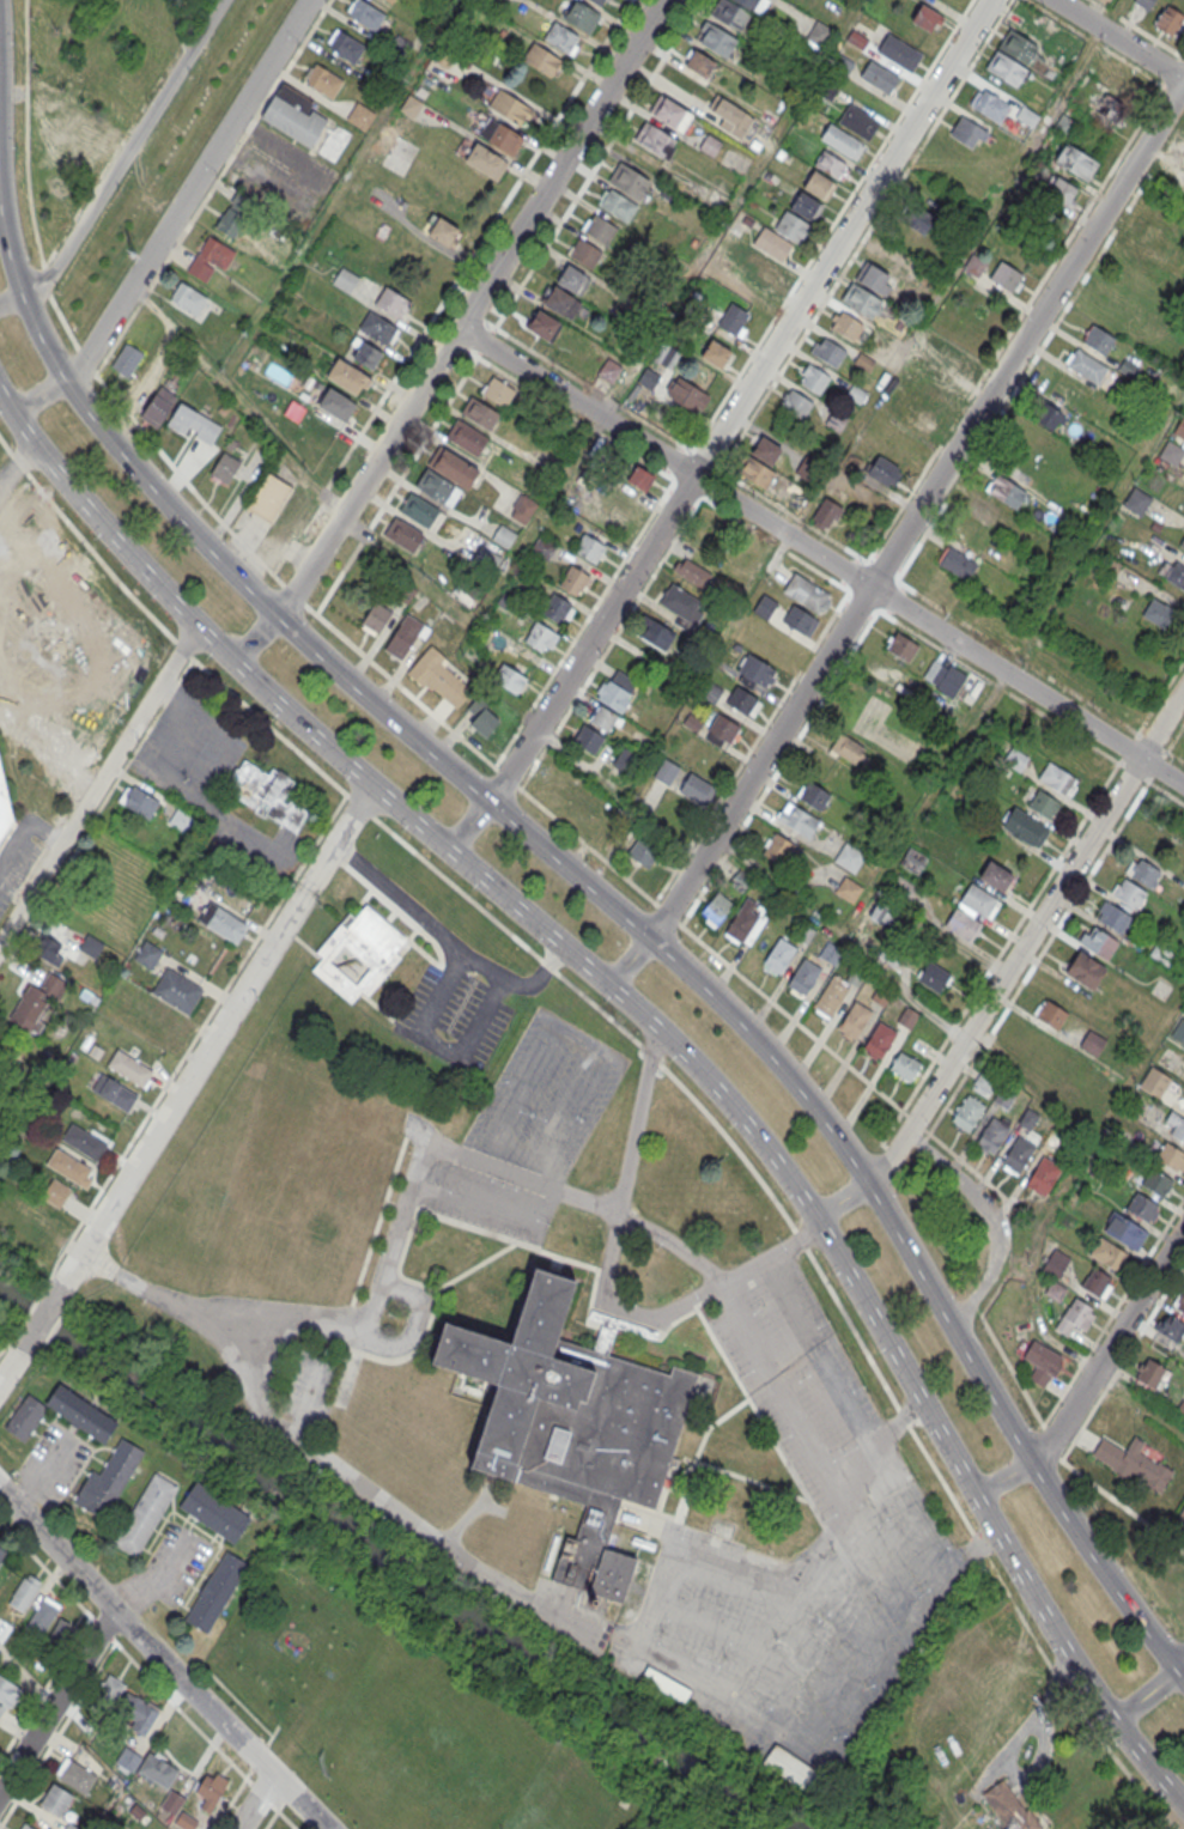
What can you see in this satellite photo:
building: (389, 1)
building: (1105, 1)
building: (597, 2)
building: (748, 4)
building: (365, 14)
building: (730, 14)
road: (1111, 14)
building: (582, 17)
building: (927, 18)
building: (1170, 20)
road: (1135, 28)
building: (818, 35)
building: (563, 38)
road: (1118, 40)
building: (716, 41)
building: (856, 41)
building: (401, 44)
building: (345, 45)
building: (1019, 48)
road: (1109, 51)
building: (899, 54)
road: (1183, 56)
building: (541, 60)
building: (699, 65)
building: (842, 65)
building: (1004, 69)
building: (878, 77)
building: (323, 81)
building: (826, 91)
building: (989, 105)
building: (1110, 107)
building: (508, 108)
building: (293, 115)
building: (670, 115)
building: (360, 117)
building: (730, 117)
building: (1026, 117)
building: (857, 123)
building: (1063, 126)
building: (59, 128)
building: (966, 132)
road: (26, 133)
building: (499, 135)
building: (90, 138)
building: (656, 140)
building: (840, 141)
building: (334, 142)
building: (710, 146)
road: (120, 162)
building: (485, 162)
building: (1075, 162)
building: (831, 164)
parking lot: (279, 172)
building: (629, 182)
building: (819, 186)
building: (1178, 189)
road: (188, 190)
building: (1063, 192)
building: (804, 206)
building: (618, 207)
building: (236, 214)
building: (918, 219)
building: (790, 225)
building: (600, 230)
building: (443, 231)
building: (772, 243)
building: (1164, 244)
road: (476, 245)
building: (585, 254)
power tower: (130, 255)
building: (210, 259)
building: (974, 265)
building: (771, 271)
building: (1006, 275)
road: (47, 279)
building: (875, 279)
building: (573, 280)
building: (345, 281)
road: (22, 292)
building: (187, 299)
building: (861, 299)
building: (560, 302)
building: (393, 303)
building: (733, 318)
building: (541, 324)
building: (845, 326)
building: (378, 329)
road: (455, 334)
building: (1098, 339)
building: (827, 352)
building: (715, 353)
building: (365, 354)
building: (954, 358)
building: (127, 359)
building: (1085, 365)
building: (609, 369)
building: (813, 377)
building: (347, 378)
building: (648, 378)
road: (578, 379)
building: (144, 382)
road: (733, 384)
building: (498, 391)
building: (687, 395)
road: (38, 396)
road: (235, 400)
road: (740, 401)
building: (336, 403)
building: (796, 403)
building: (157, 407)
building: (479, 413)
building: (1045, 415)
building: (919, 417)
road: (575, 418)
building: (193, 424)
building: (1179, 427)
building: (466, 437)
building: (230, 444)
building: (766, 450)
building: (1171, 452)
road: (16, 467)
building: (225, 468)
building: (885, 472)
building: (757, 473)
building: (639, 479)
building: (435, 485)
building: (1006, 492)
building: (269, 497)
building: (1137, 500)
building: (522, 508)
building: (419, 509)
road: (917, 511)
road: (790, 514)
building: (825, 514)
building: (989, 514)
building: (402, 534)
building: (503, 535)
building: (1182, 542)
building: (544, 546)
building: (589, 547)
road: (821, 555)
building: (957, 565)
building: (692, 572)
building: (1176, 573)
building: (575, 581)
building: (405, 593)
building: (806, 594)
building: (682, 606)
building: (557, 608)
building: (764, 608)
building: (378, 614)
building: (1160, 614)
building: (800, 621)
building: (655, 632)
building: (402, 636)
building: (541, 637)
building: (903, 646)
road: (1025, 662)
building: (755, 672)
building: (936, 672)
building: (437, 677)
building: (509, 677)
road: (1160, 694)
building: (613, 697)
road: (1015, 697)
building: (743, 703)
road: (192, 707)
building: (480, 716)
building: (603, 718)
building: (723, 730)
road: (1174, 736)
building: (588, 740)
road: (751, 746)
building: (846, 748)
building: (626, 760)
building: (666, 773)
road: (502, 774)
building: (1055, 779)
road: (97, 783)
road: (180, 784)
building: (697, 789)
building: (268, 795)
building: (813, 795)
building: (141, 802)
building: (1044, 803)
building: (5, 808)
building: (797, 819)
building: (181, 821)
road: (467, 825)
building: (1025, 828)
road: (47, 831)
road: (341, 833)
road: (16, 846)
building: (777, 847)
building: (644, 850)
building: (849, 856)
building: (913, 861)
parking lot: (17, 867)
building: (1143, 871)
building: (995, 877)
building: (740, 880)
building: (903, 888)
building: (848, 889)
building: (1128, 892)
building: (978, 900)
building: (716, 907)
building: (886, 916)
building: (1112, 916)
building: (746, 922)
building: (224, 923)
building: (963, 925)
building: (806, 934)
road: (447, 936)
building: (1098, 942)
building: (91, 947)
building: (828, 949)
building: (49, 950)
building: (1161, 950)
building: (359, 952)
building: (147, 955)
building: (779, 955)
road: (629, 961)
road: (1010, 965)
road: (686, 970)
building: (1085, 970)
building: (856, 974)
building: (804, 976)
building: (934, 977)
building: (125, 989)
building: (177, 991)
building: (881, 994)
building: (830, 996)
road: (624, 1001)
parking lot: (459, 1008)
building: (30, 1010)
building: (1050, 1014)
building: (906, 1016)
building: (854, 1019)
building: (165, 1022)
building: (1178, 1031)
road: (198, 1032)
building: (880, 1039)
building: (1092, 1043)
road: (437, 1044)
building: (904, 1065)
road: (664, 1068)
building: (129, 1069)
building: (1154, 1081)
building: (984, 1084)
road: (182, 1089)
building: (114, 1094)
parking lot: (547, 1094)
building: (1004, 1095)
building: (967, 1112)
building: (1027, 1117)
building: (1178, 1129)
building: (992, 1134)
building: (84, 1143)
building: (1018, 1154)
building: (1171, 1157)
building: (68, 1167)
building: (1042, 1175)
building: (1156, 1181)
road: (1067, 1185)
road: (1016, 1186)
building: (56, 1192)
road: (581, 1195)
building: (1142, 1207)
road: (994, 1216)
road: (399, 1226)
building: (1125, 1231)
building: (1107, 1253)
building: (1056, 1263)
building: (1097, 1282)
road: (603, 1283)
river: (10, 1300)
building: (1179, 1302)
road: (32, 1307)
road: (41, 1315)
building: (1075, 1315)
river: (40, 1320)
road: (339, 1329)
building: (1173, 1329)
road: (5, 1345)
road: (1110, 1345)
building: (1040, 1361)
road: (10, 1366)
building: (1149, 1373)
building: (83, 1415)
road: (854, 1417)
building: (569, 1423)
road: (875, 1440)
road: (815, 1452)
building: (1133, 1463)
parking lot: (53, 1464)
road: (341, 1466)
parking lot: (854, 1473)
road: (1003, 1478)
building: (108, 1479)
building: (214, 1512)
building: (1182, 1513)
building: (145, 1514)
building: (366, 1550)
building: (1, 1552)
parking lot: (174, 1563)
road: (45, 1568)
river: (429, 1574)
road: (158, 1579)
road: (806, 1579)
building: (217, 1592)
building: (24, 1594)
road: (858, 1610)
building: (42, 1617)
building: (59, 1639)
road: (758, 1645)
road: (162, 1659)
road: (132, 1661)
road: (1180, 1667)
road: (691, 1671)
road: (1180, 1675)
road: (26, 1676)
building: (8, 1693)
road: (1144, 1695)
building: (107, 1696)
road: (56, 1701)
park: (425, 1701)
building: (140, 1715)
road: (1136, 1751)
building: (127, 1761)
building: (790, 1768)
building: (157, 1772)
building: (75, 1776)
building: (210, 1789)
road: (1173, 1793)
building: (55, 1801)
road: (255, 1801)
building: (171, 1803)
road: (229, 1803)
building: (1009, 1807)
road: (286, 1819)
building: (186, 1822)
building: (25, 1827)
building: (71, 1827)

